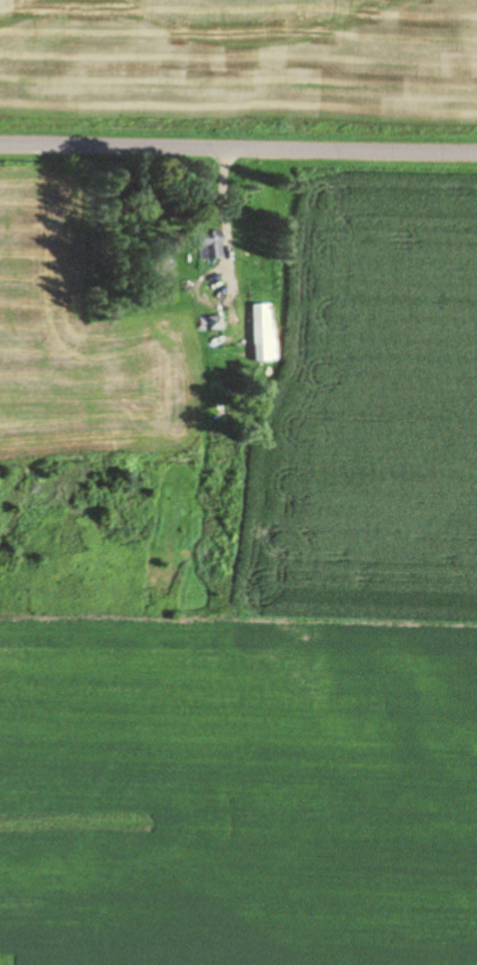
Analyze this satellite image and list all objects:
road: (238, 109)
building: (209, 245)
building: (214, 322)
building: (263, 333)

